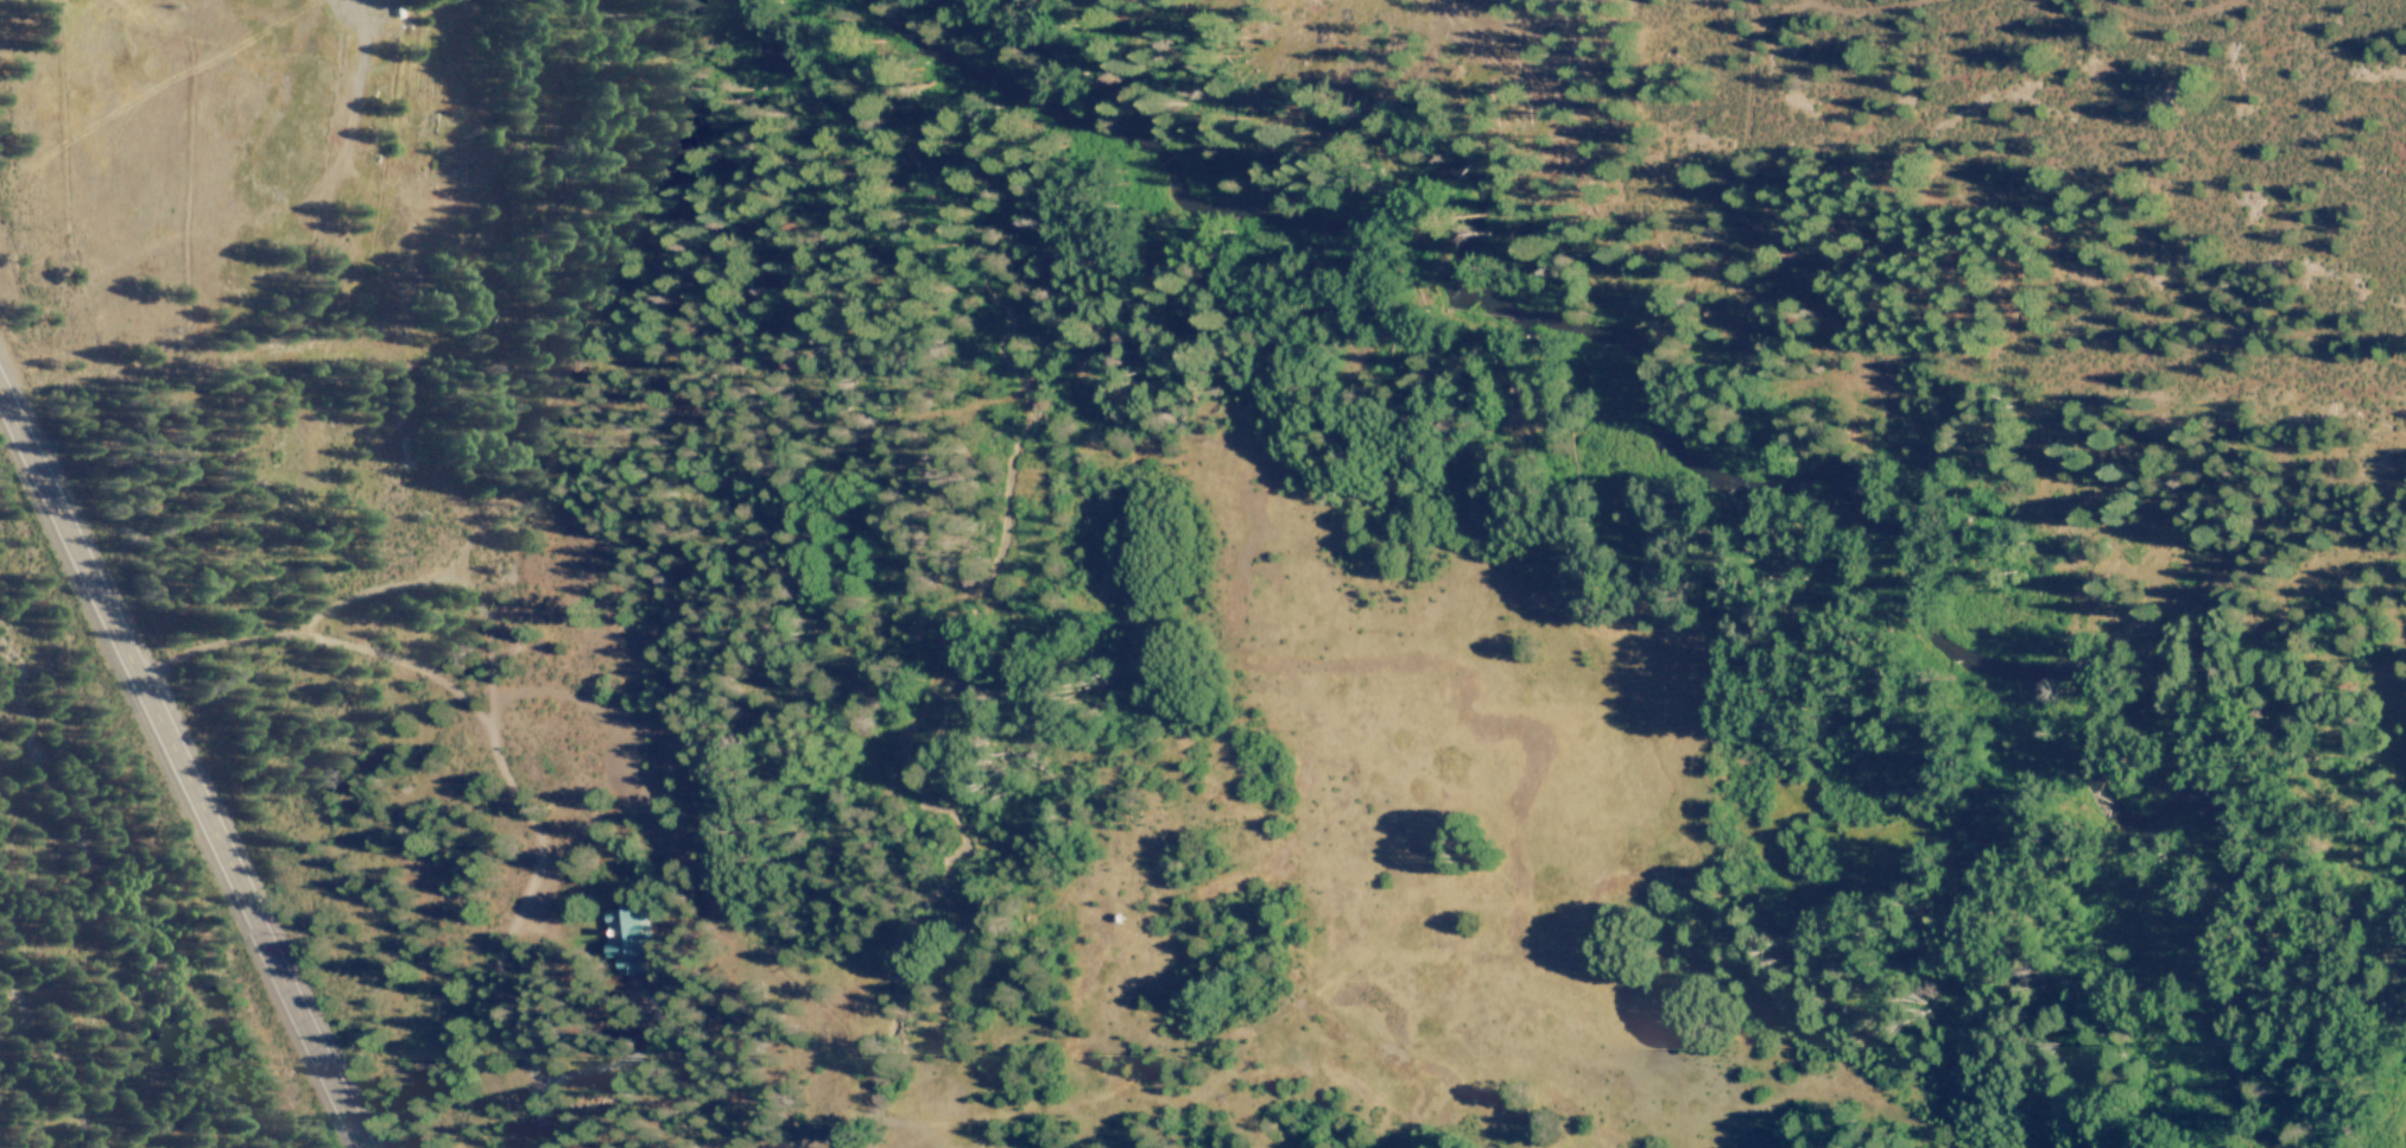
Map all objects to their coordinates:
road: (183, 770)
building: (627, 940)

